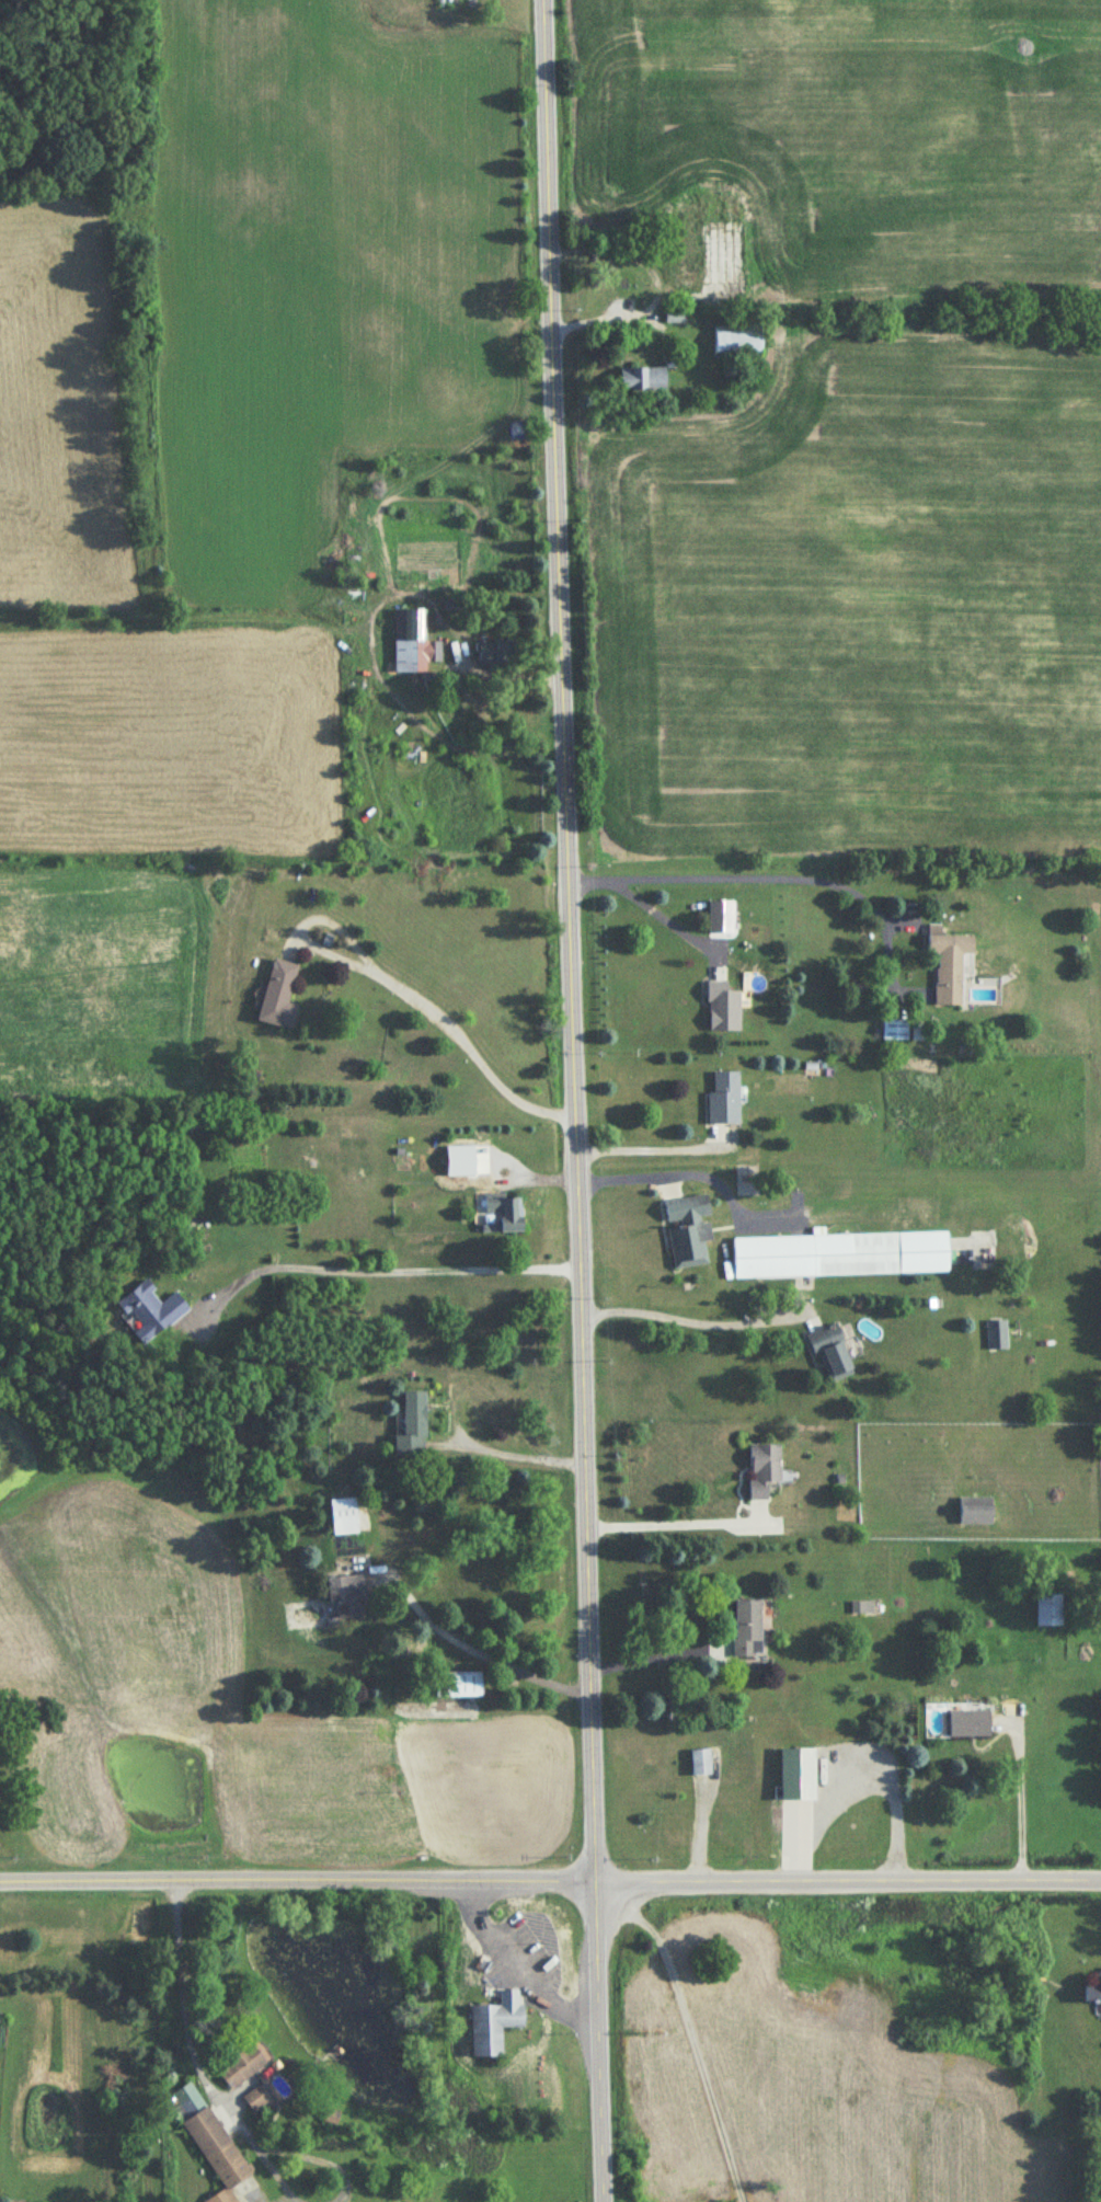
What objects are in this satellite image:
building: (725, 209)
building: (688, 261)
building: (737, 344)
building: (642, 381)
building: (412, 645)
building: (497, 654)
road: (713, 874)
road: (664, 917)
building: (948, 966)
building: (278, 997)
building: (723, 1010)
building: (895, 1032)
road: (469, 1037)
building: (724, 1099)
road: (570, 1100)
road: (646, 1146)
road: (691, 1170)
building: (504, 1213)
building: (688, 1230)
building: (840, 1257)
road: (371, 1266)
building: (151, 1312)
road: (685, 1318)
building: (996, 1337)
building: (830, 1354)
road: (456, 1423)
building: (412, 1429)
building: (764, 1470)
building: (976, 1512)
building: (343, 1518)
road: (673, 1524)
building: (346, 1598)
building: (1048, 1612)
building: (748, 1629)
road: (471, 1651)
building: (457, 1685)
building: (968, 1724)
building: (703, 1763)
road: (861, 1768)
building: (798, 1775)
road: (1022, 1797)
road: (550, 1876)
road: (527, 1953)
building: (1093, 1993)
road: (186, 2021)
building: (494, 2025)
road: (692, 2033)
building: (240, 2066)
building: (208, 2141)
road: (313, 2160)
road: (275, 2175)

